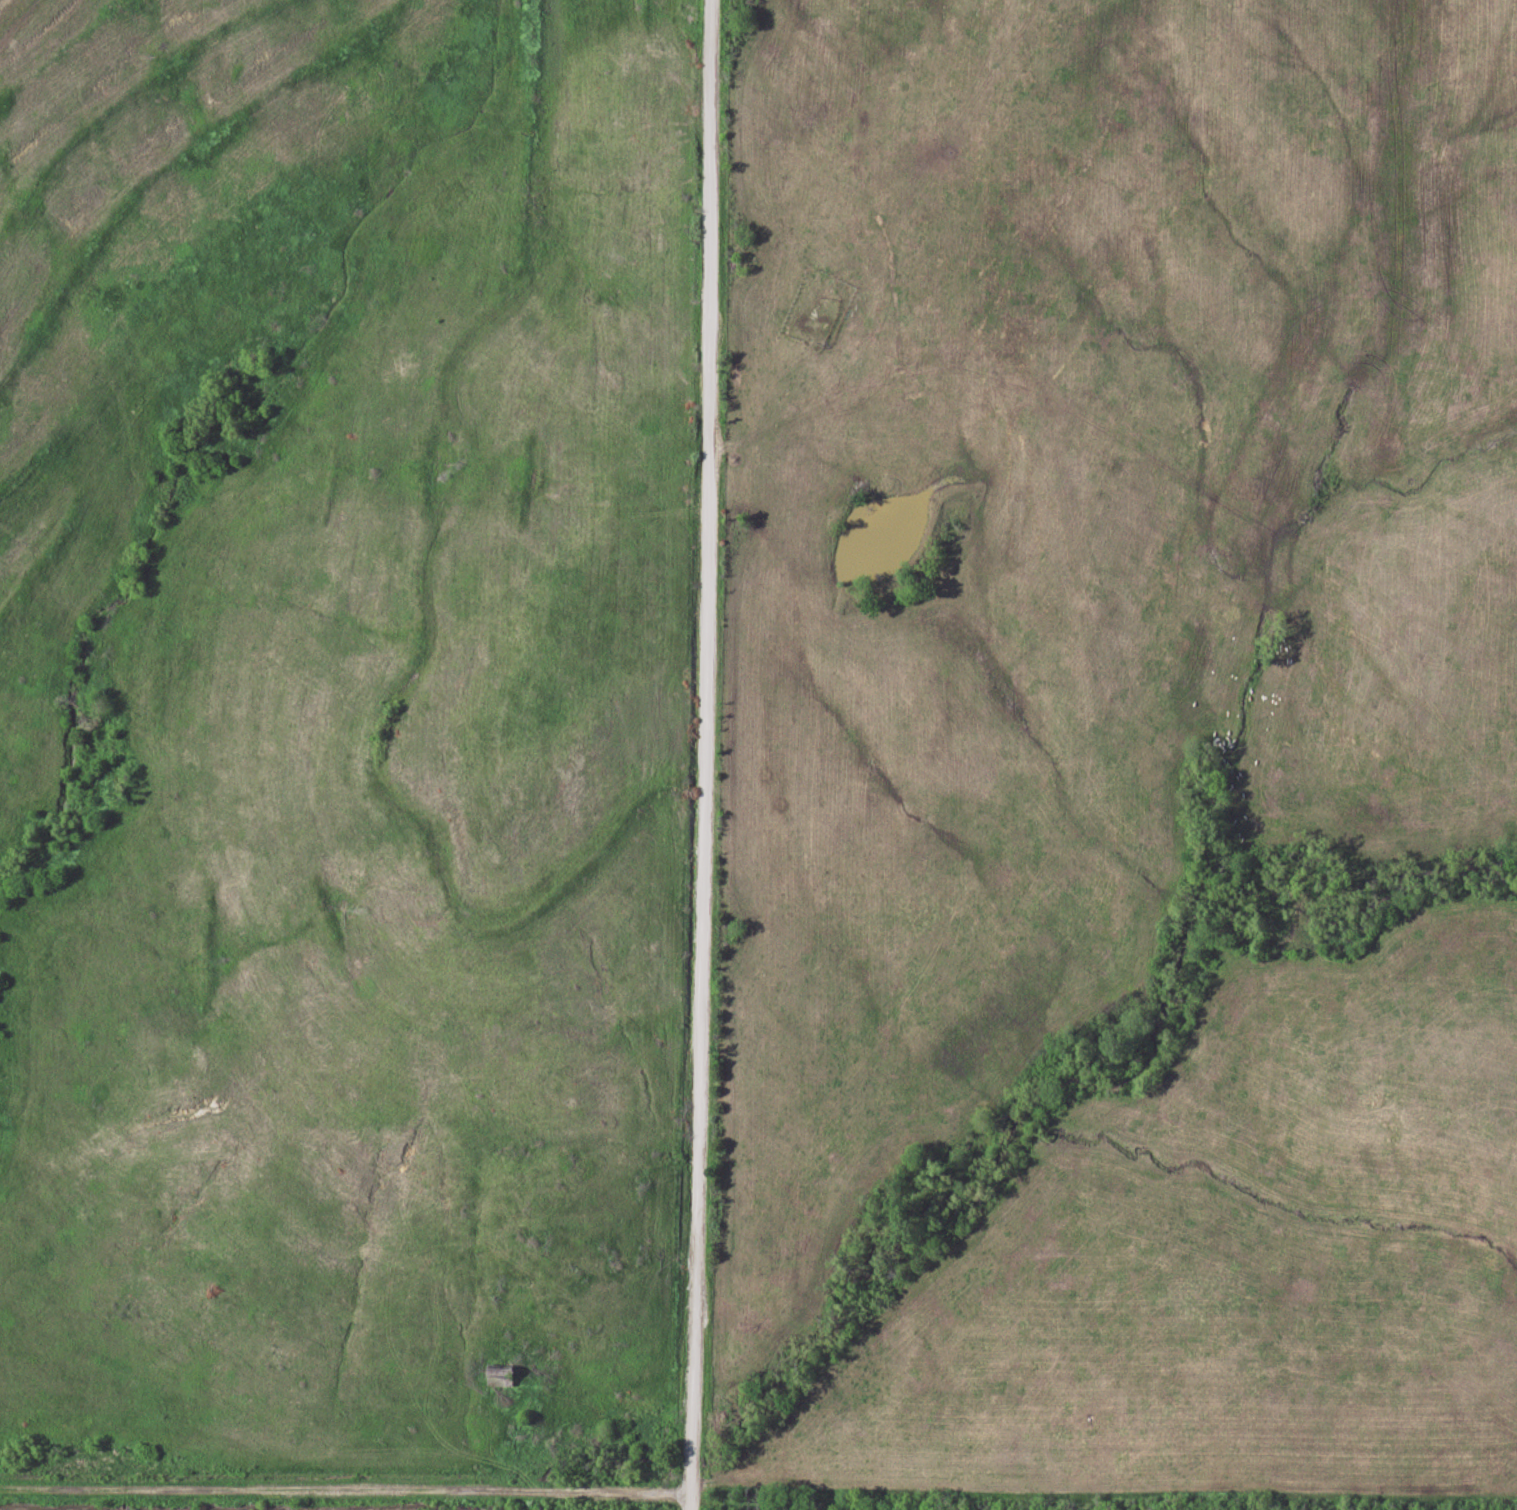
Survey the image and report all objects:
road: (698, 754)
road: (344, 1485)

